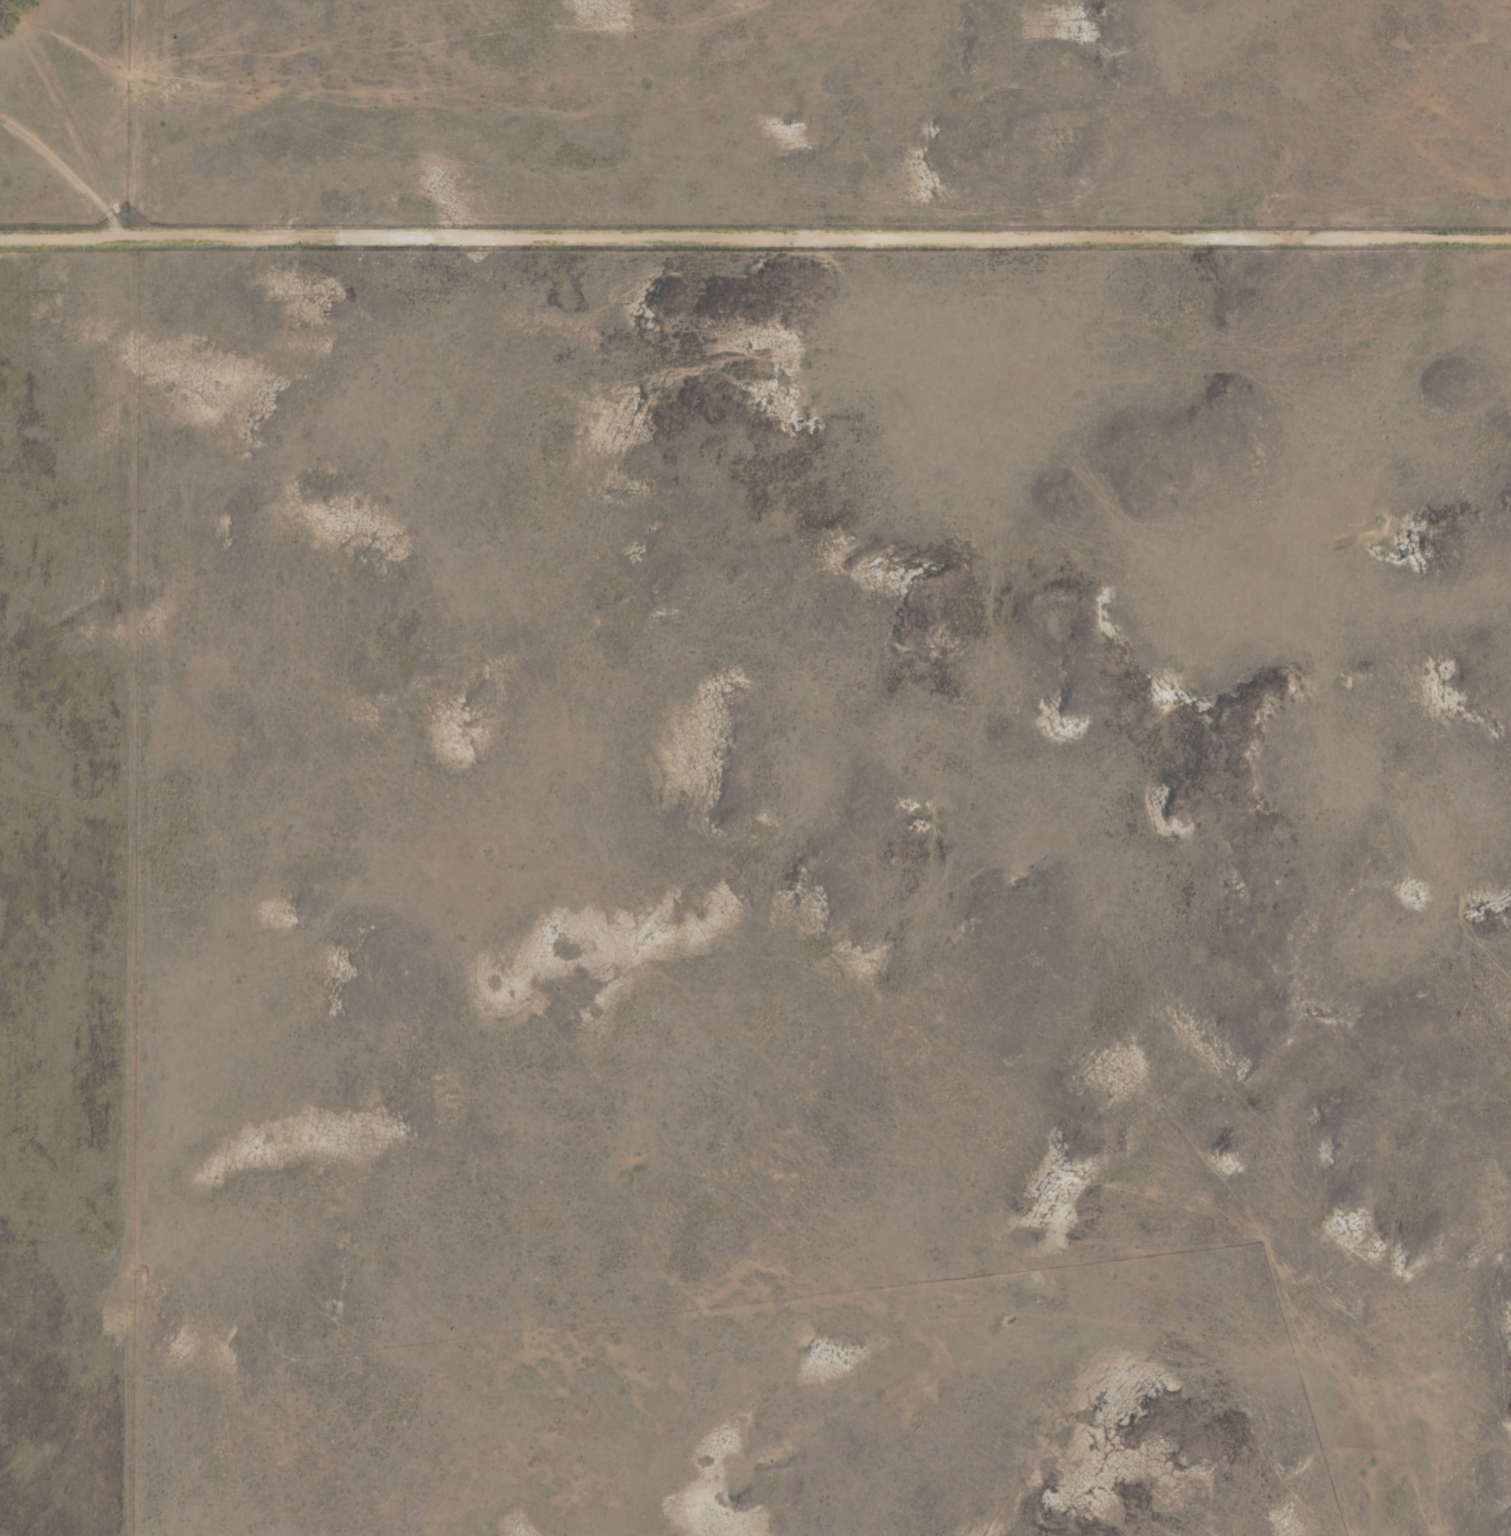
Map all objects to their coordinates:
road: (65, 111)
road: (176, 123)
road: (755, 235)

